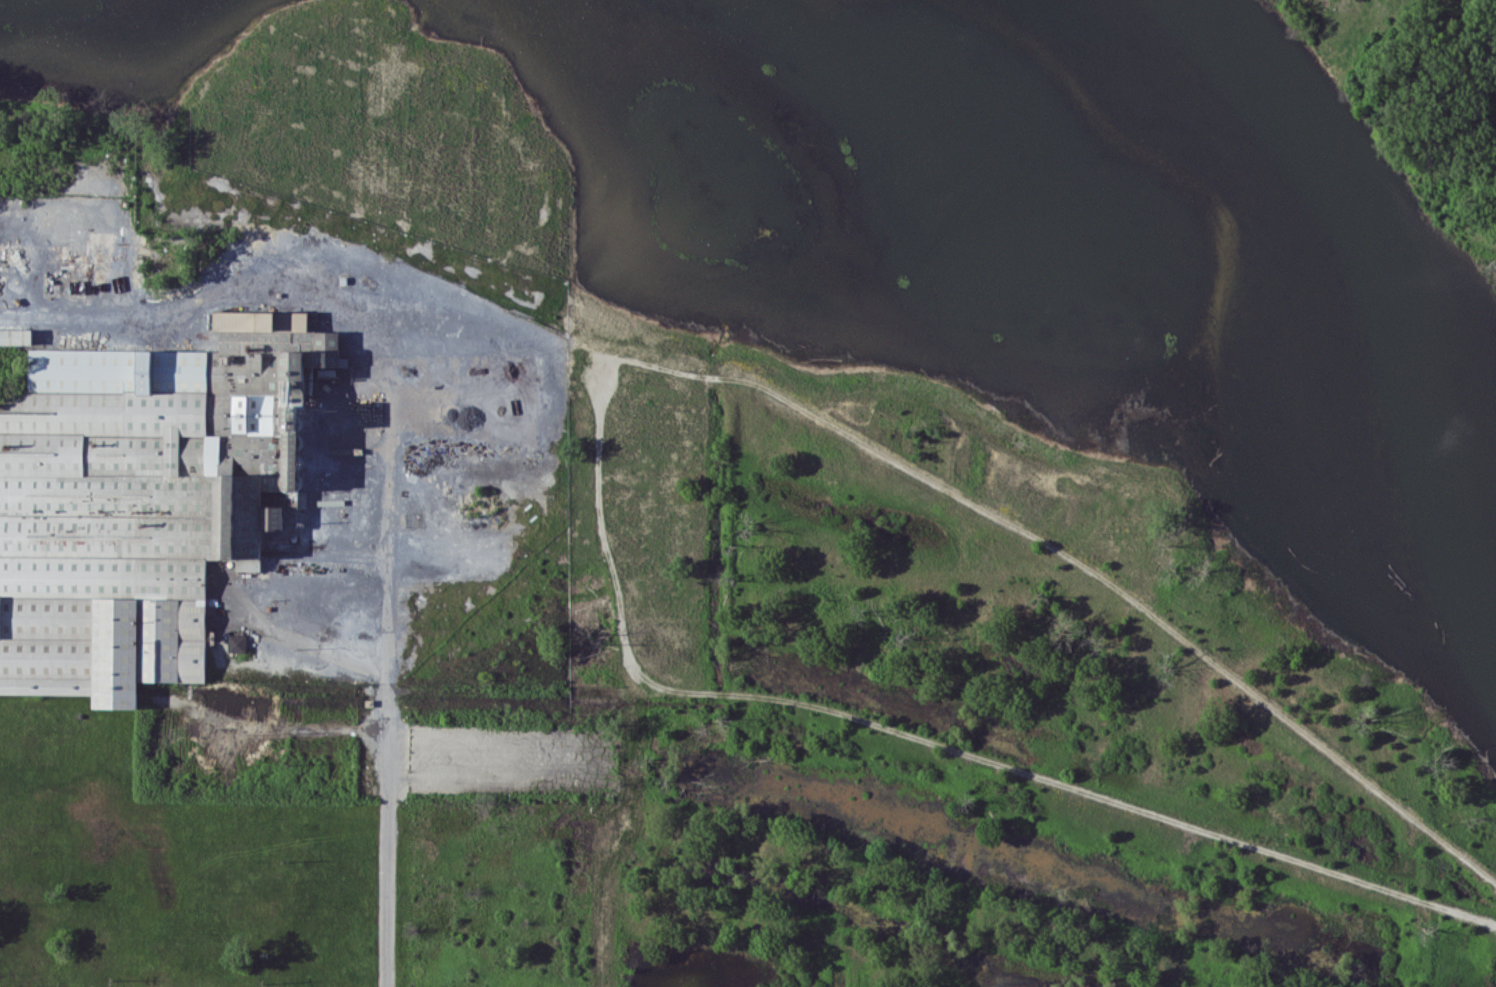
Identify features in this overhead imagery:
river: (1397, 300)
building: (15, 334)
building: (145, 498)
railway: (1138, 604)
road: (1138, 604)
road: (298, 637)
building: (236, 643)
road: (390, 674)
parking lot: (483, 751)
road: (1133, 806)
road: (980, 909)

